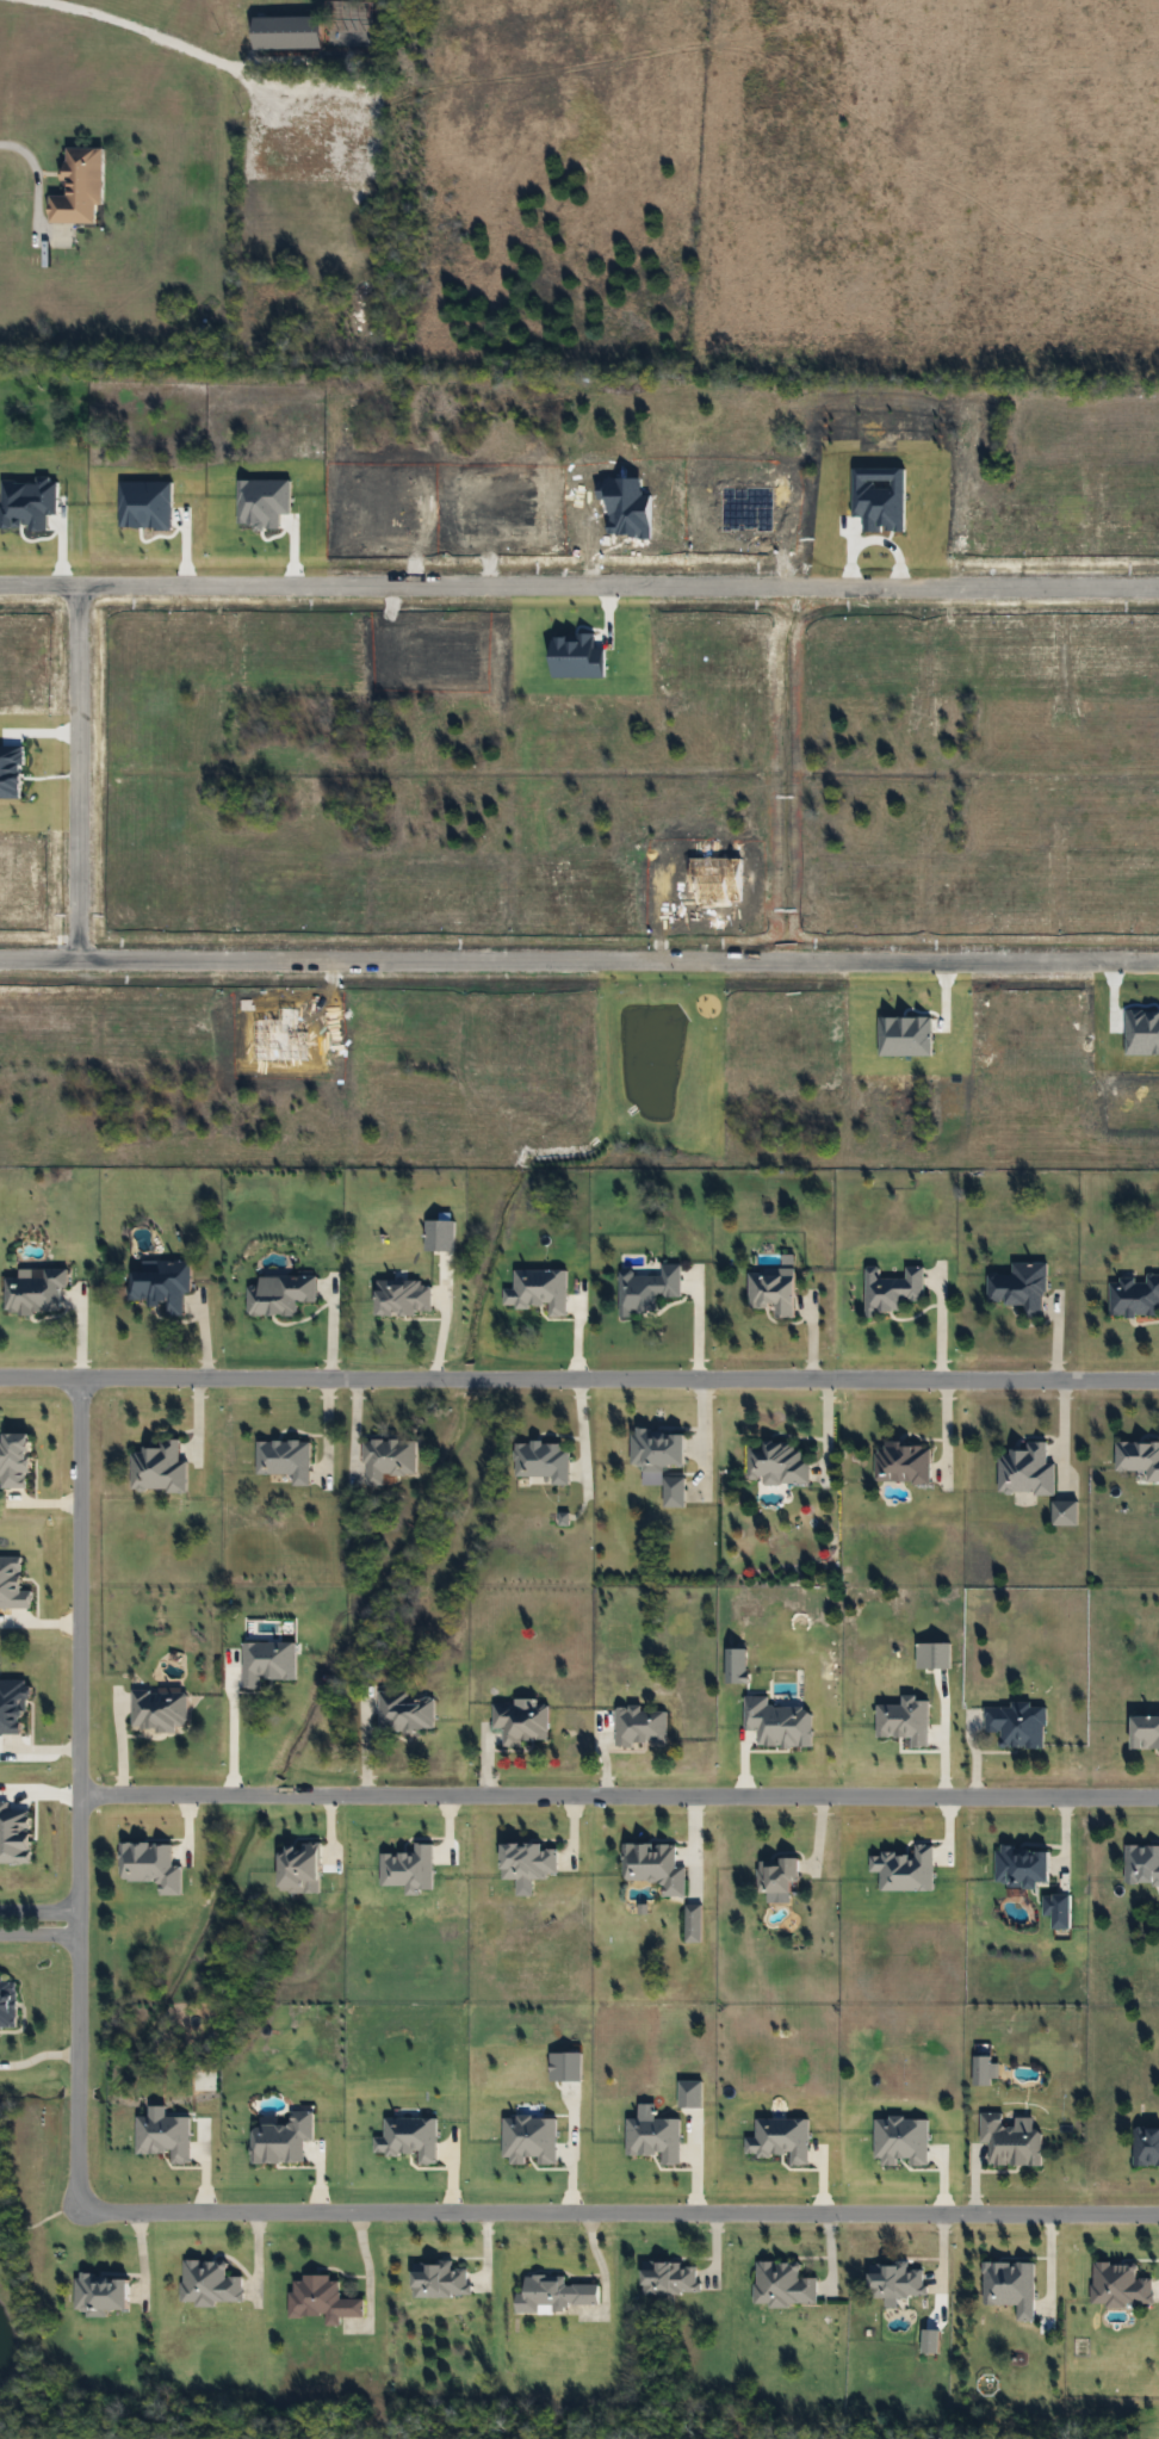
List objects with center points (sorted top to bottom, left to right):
road: (138, 32)
road: (31, 178)
building: (78, 187)
road: (579, 595)
road: (76, 780)
road: (579, 968)
building: (162, 1286)
building: (1021, 1288)
building: (650, 1289)
building: (893, 1289)
building: (771, 1290)
building: (36, 1292)
building: (279, 1294)
building: (1134, 1296)
road: (941, 1321)
road: (578, 1378)
road: (327, 1432)
road: (355, 1432)
road: (948, 1436)
road: (582, 1437)
road: (705, 1438)
building: (657, 1448)
building: (386, 1459)
building: (1138, 1459)
building: (283, 1460)
building: (541, 1461)
building: (775, 1462)
building: (900, 1465)
building: (157, 1469)
building: (1024, 1472)
building: (673, 1493)
building: (14, 1706)
building: (157, 1710)
building: (404, 1711)
road: (230, 1721)
building: (520, 1722)
building: (1015, 1725)
building: (639, 1726)
building: (1143, 1732)
road: (83, 1790)
road: (621, 1794)
building: (1141, 1863)
building: (655, 1865)
building: (1019, 1865)
building: (777, 1876)
building: (1055, 1908)
road: (42, 1923)
building: (7, 2001)
road: (39, 2053)
building: (1009, 2142)
building: (1146, 2147)
road: (620, 2204)
building: (668, 2277)
building: (439, 2279)
building: (893, 2279)
building: (207, 2283)
building: (781, 2284)
building: (1117, 2284)
building: (1011, 2286)
building: (101, 2292)
building: (554, 2293)
building: (320, 2299)

